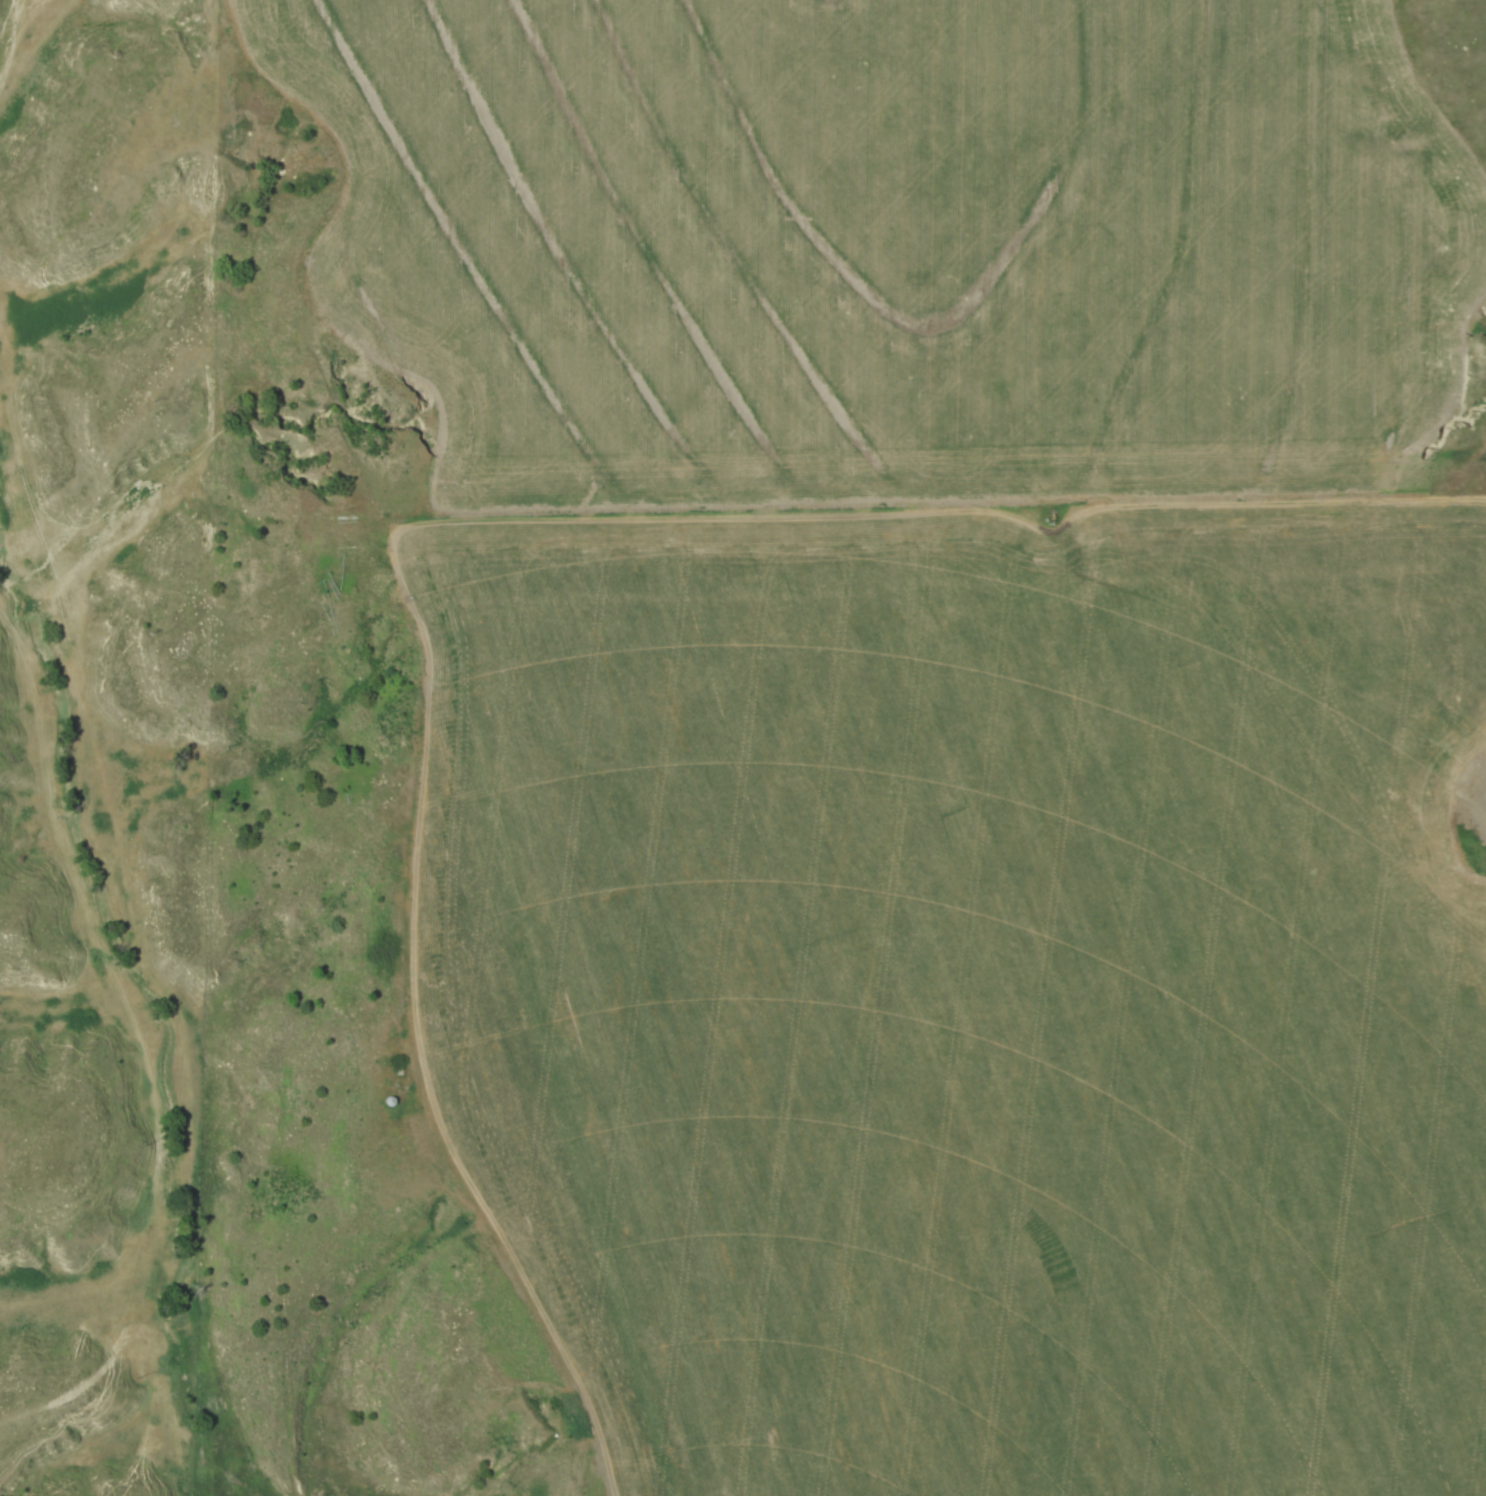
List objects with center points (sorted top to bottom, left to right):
crop: (895, 242)
crop: (971, 986)

